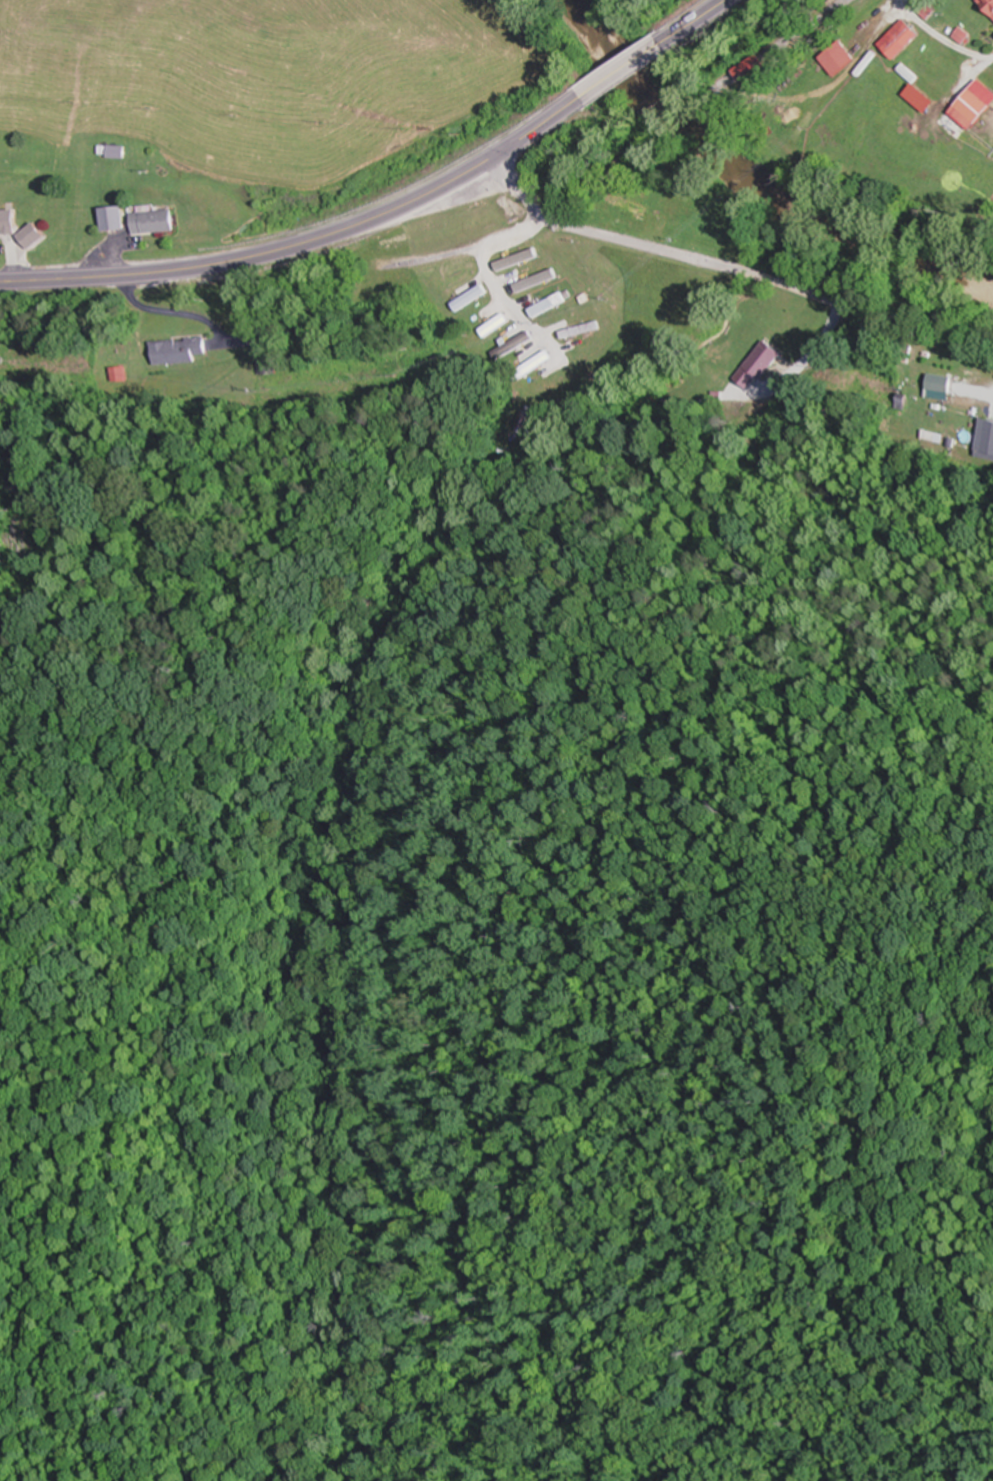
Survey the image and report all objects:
building: (988, 4)
road: (694, 23)
building: (899, 38)
building: (837, 57)
road: (621, 72)
building: (975, 106)
river: (753, 172)
building: (629, 204)
building: (604, 215)
building: (7, 221)
building: (154, 221)
building: (32, 235)
road: (307, 242)
building: (512, 261)
road: (732, 270)
building: (530, 283)
building: (468, 298)
building: (544, 306)
building: (495, 324)
building: (580, 331)
building: (511, 343)
building: (178, 350)
building: (531, 356)
building: (264, 365)
building: (120, 373)
building: (943, 383)
building: (931, 436)
building: (986, 440)

